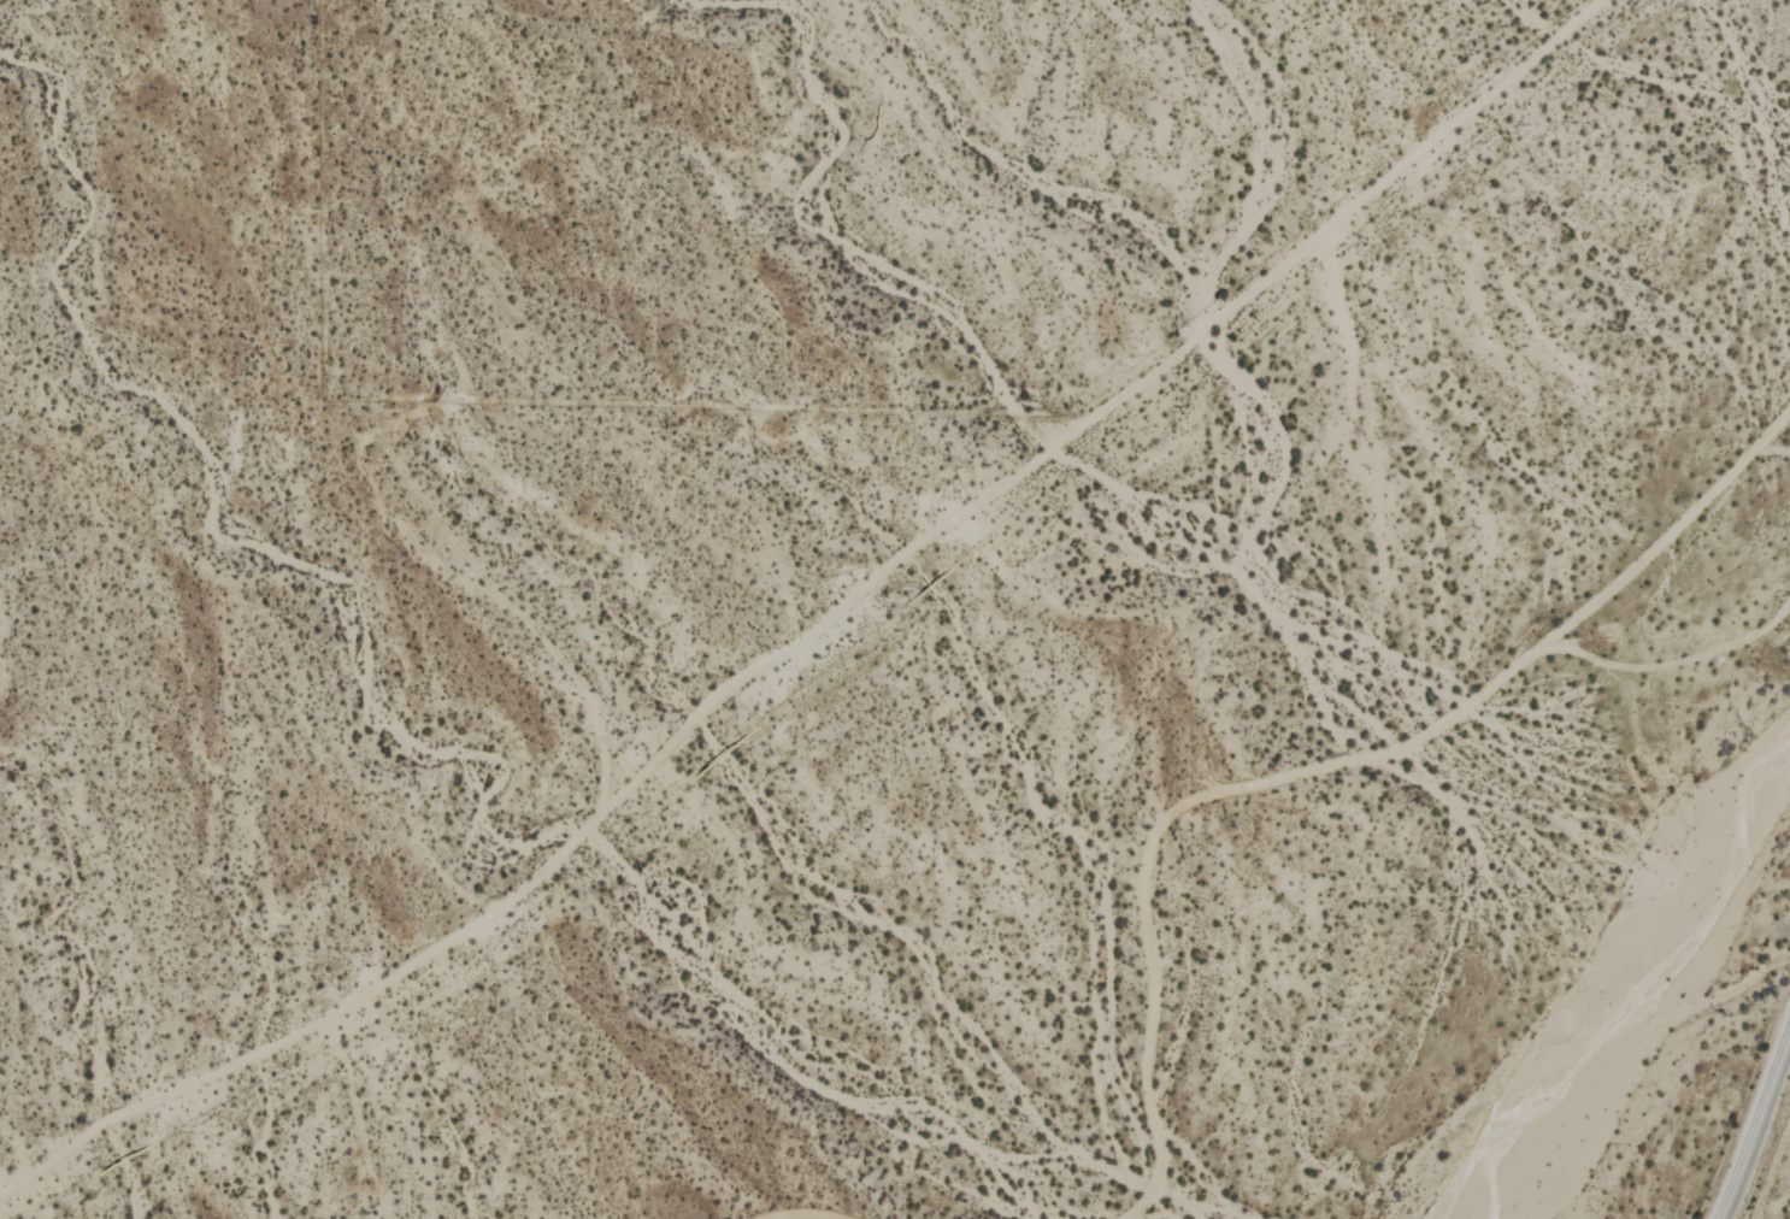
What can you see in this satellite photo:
power tower: (1225, 823)
road: (1756, 1127)

